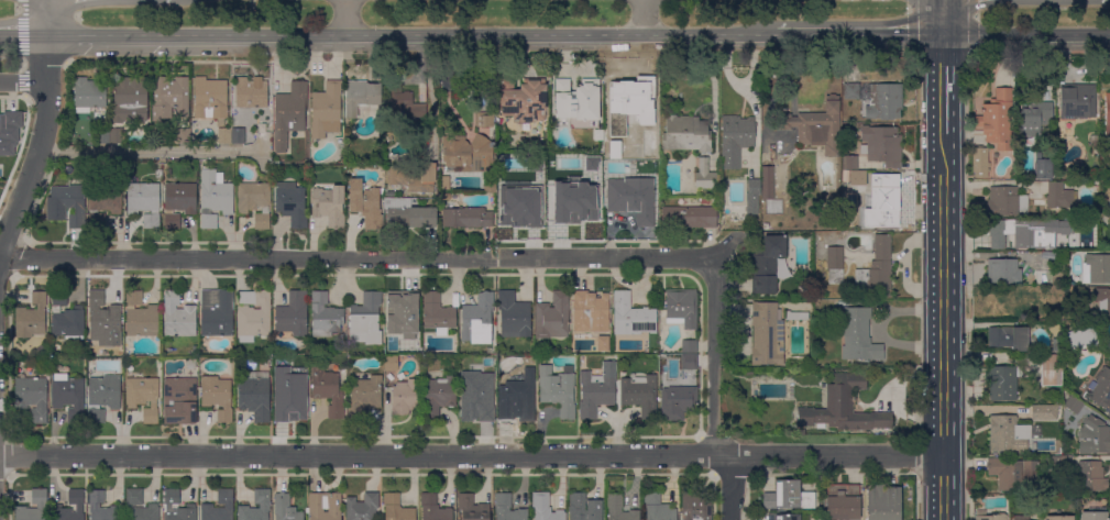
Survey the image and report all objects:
road: (345, 16)
road: (943, 16)
road: (44, 18)
road: (648, 18)
road: (410, 34)
road: (859, 34)
traffic signals: (905, 34)
road: (1026, 34)
road: (22, 35)
road: (22, 46)
road: (942, 59)
road: (752, 60)
road: (726, 63)
traffic signals: (944, 65)
road: (22, 82)
road: (943, 85)
building: (851, 91)
building: (251, 93)
building: (89, 95)
building: (362, 96)
building: (171, 98)
building: (130, 100)
building: (211, 100)
building: (524, 100)
building: (884, 101)
building: (579, 102)
building: (1078, 102)
building: (405, 106)
building: (327, 110)
building: (289, 114)
building: (1108, 115)
building: (1035, 119)
building: (485, 120)
building: (997, 120)
road: (757, 123)
building: (816, 126)
building: (7, 130)
building: (688, 133)
building: (102, 135)
building: (116, 135)
building: (183, 135)
building: (224, 135)
building: (239, 136)
building: (736, 139)
building: (881, 145)
road: (40, 146)
road: (149, 152)
building: (635, 153)
building: (468, 154)
building: (980, 162)
building: (850, 163)
building: (276, 164)
building: (1043, 165)
building: (442, 168)
building: (706, 175)
building: (414, 178)
building: (858, 178)
building: (767, 182)
building: (490, 187)
building: (754, 187)
building: (382, 195)
building: (1060, 196)
building: (446, 197)
building: (215, 198)
building: (631, 199)
building: (1005, 201)
building: (103, 202)
building: (144, 202)
building: (178, 202)
building: (255, 202)
building: (884, 202)
building: (70, 203)
building: (292, 203)
building: (366, 203)
building: (329, 206)
building: (408, 213)
building: (689, 217)
building: (468, 218)
building: (1095, 221)
building: (1021, 233)
building: (1093, 247)
road: (354, 258)
building: (767, 264)
building: (835, 265)
building: (878, 267)
building: (1096, 268)
building: (1003, 272)
building: (1044, 277)
building: (1103, 301)
building: (681, 307)
building: (217, 312)
building: (400, 312)
building: (591, 312)
building: (437, 313)
building: (253, 314)
building: (293, 314)
building: (141, 316)
building: (325, 316)
building: (513, 316)
building: (796, 316)
building: (31, 317)
building: (178, 317)
building: (553, 317)
building: (631, 317)
building: (67, 318)
building: (103, 320)
building: (366, 320)
building: (477, 320)
road: (943, 328)
building: (767, 334)
building: (858, 335)
building: (1009, 338)
building: (1080, 338)
building: (603, 344)
building: (1057, 345)
building: (1108, 345)
building: (689, 346)
building: (91, 351)
building: (267, 352)
building: (535, 358)
road: (714, 358)
building: (689, 362)
building: (391, 363)
building: (158, 364)
building: (266, 364)
building: (1049, 369)
building: (1001, 383)
building: (330, 390)
building: (558, 390)
building: (596, 390)
building: (1053, 390)
building: (1102, 390)
building: (289, 391)
building: (255, 395)
building: (640, 395)
building: (69, 396)
building: (103, 396)
building: (217, 396)
building: (439, 396)
building: (476, 396)
building: (32, 397)
building: (144, 397)
building: (364, 397)
building: (406, 397)
building: (517, 397)
building: (179, 400)
building: (678, 400)
building: (1074, 403)
building: (844, 407)
building: (1004, 409)
building: (1045, 413)
building: (1075, 424)
building: (1009, 432)
building: (1093, 436)
road: (472, 456)
building: (1059, 463)
building: (1013, 474)
building: (1091, 476)
road: (730, 486)
building: (788, 496)
building: (843, 502)
building: (883, 502)
building: (95, 504)
building: (41, 506)
building: (154, 506)
building: (191, 506)
building: (326, 506)
building: (77, 507)
building: (220, 507)
building: (256, 507)
building: (363, 507)
building: (584, 507)
building: (695, 507)
building: (286, 508)
building: (397, 508)
building: (435, 508)
building: (473, 508)
building: (507, 508)
building: (545, 508)
building: (658, 508)
building: (619, 509)
building: (1095, 515)
building: (989, 516)
building: (780, 517)
building: (1058, 518)

